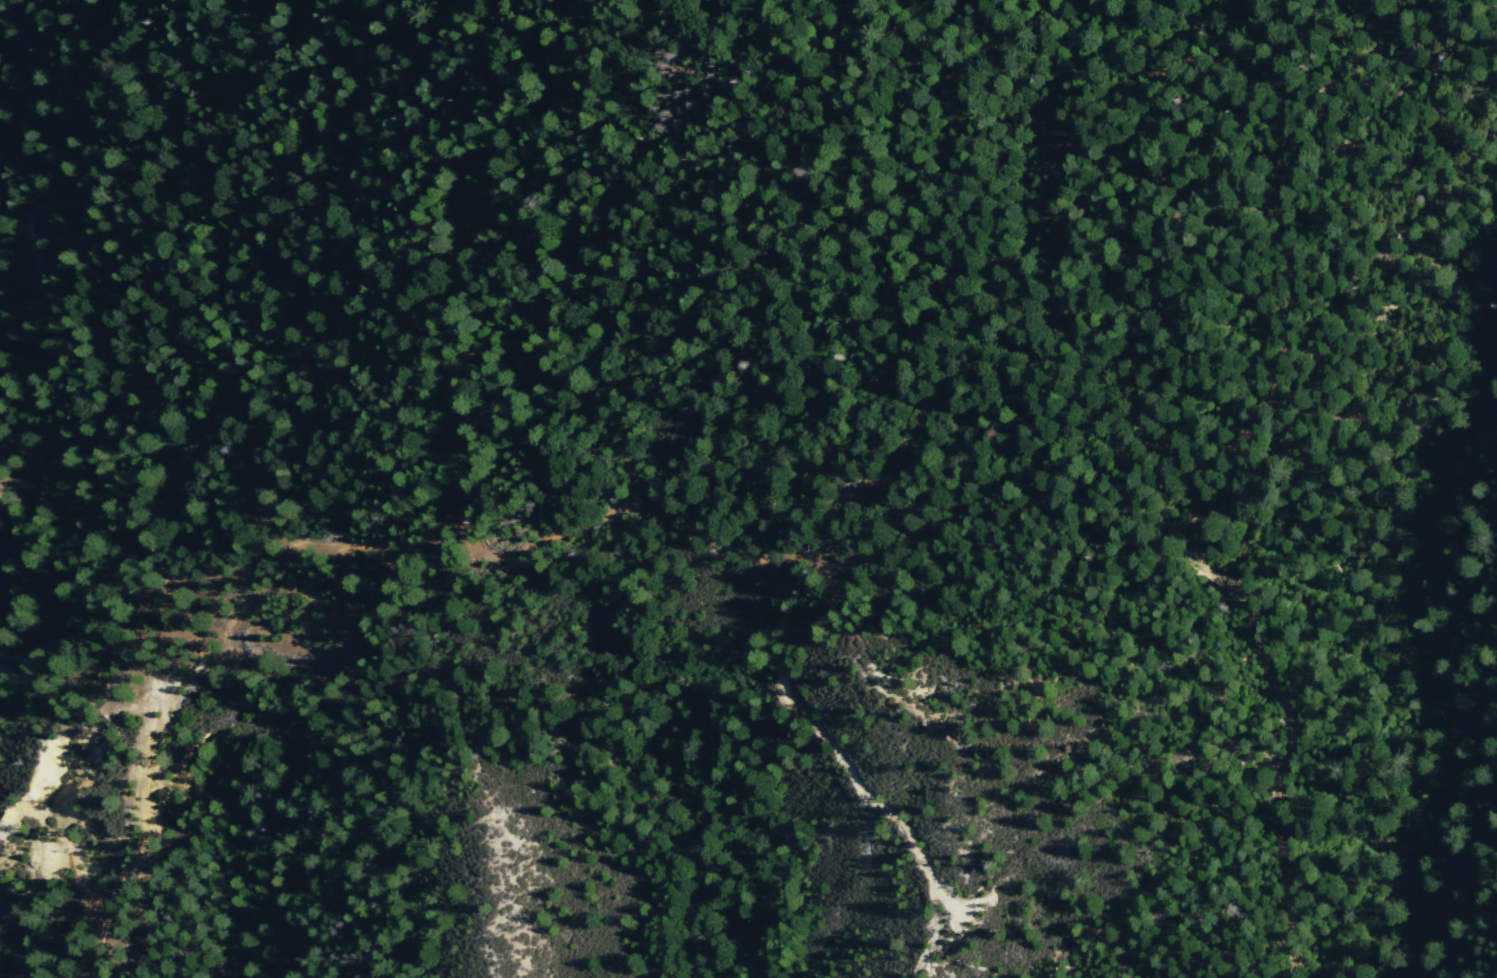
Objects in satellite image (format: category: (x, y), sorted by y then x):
road: (323, 537)
road: (793, 722)

